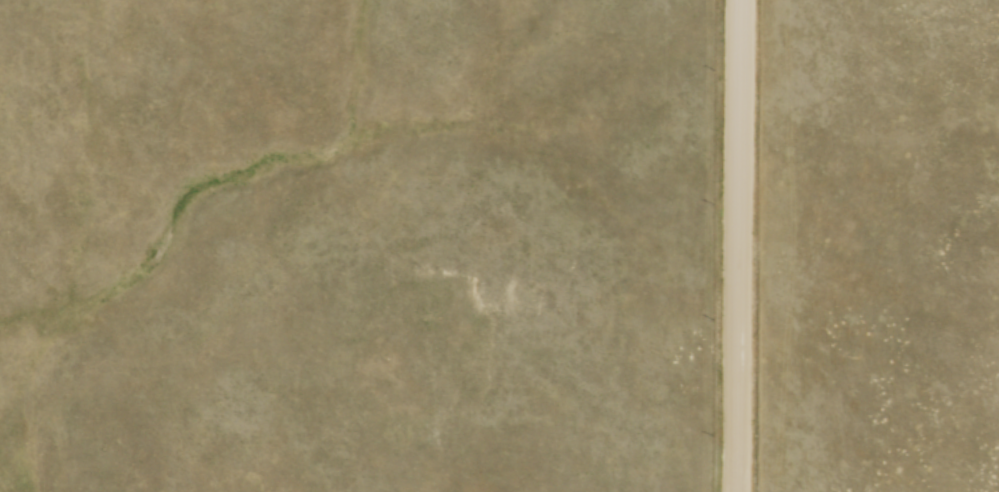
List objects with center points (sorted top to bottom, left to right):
road: (741, 245)

